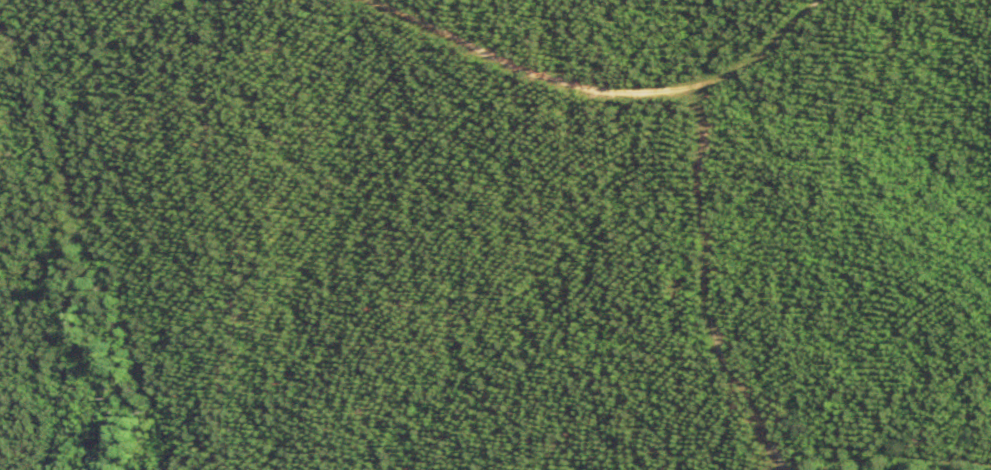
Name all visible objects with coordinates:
road: (576, 214)

